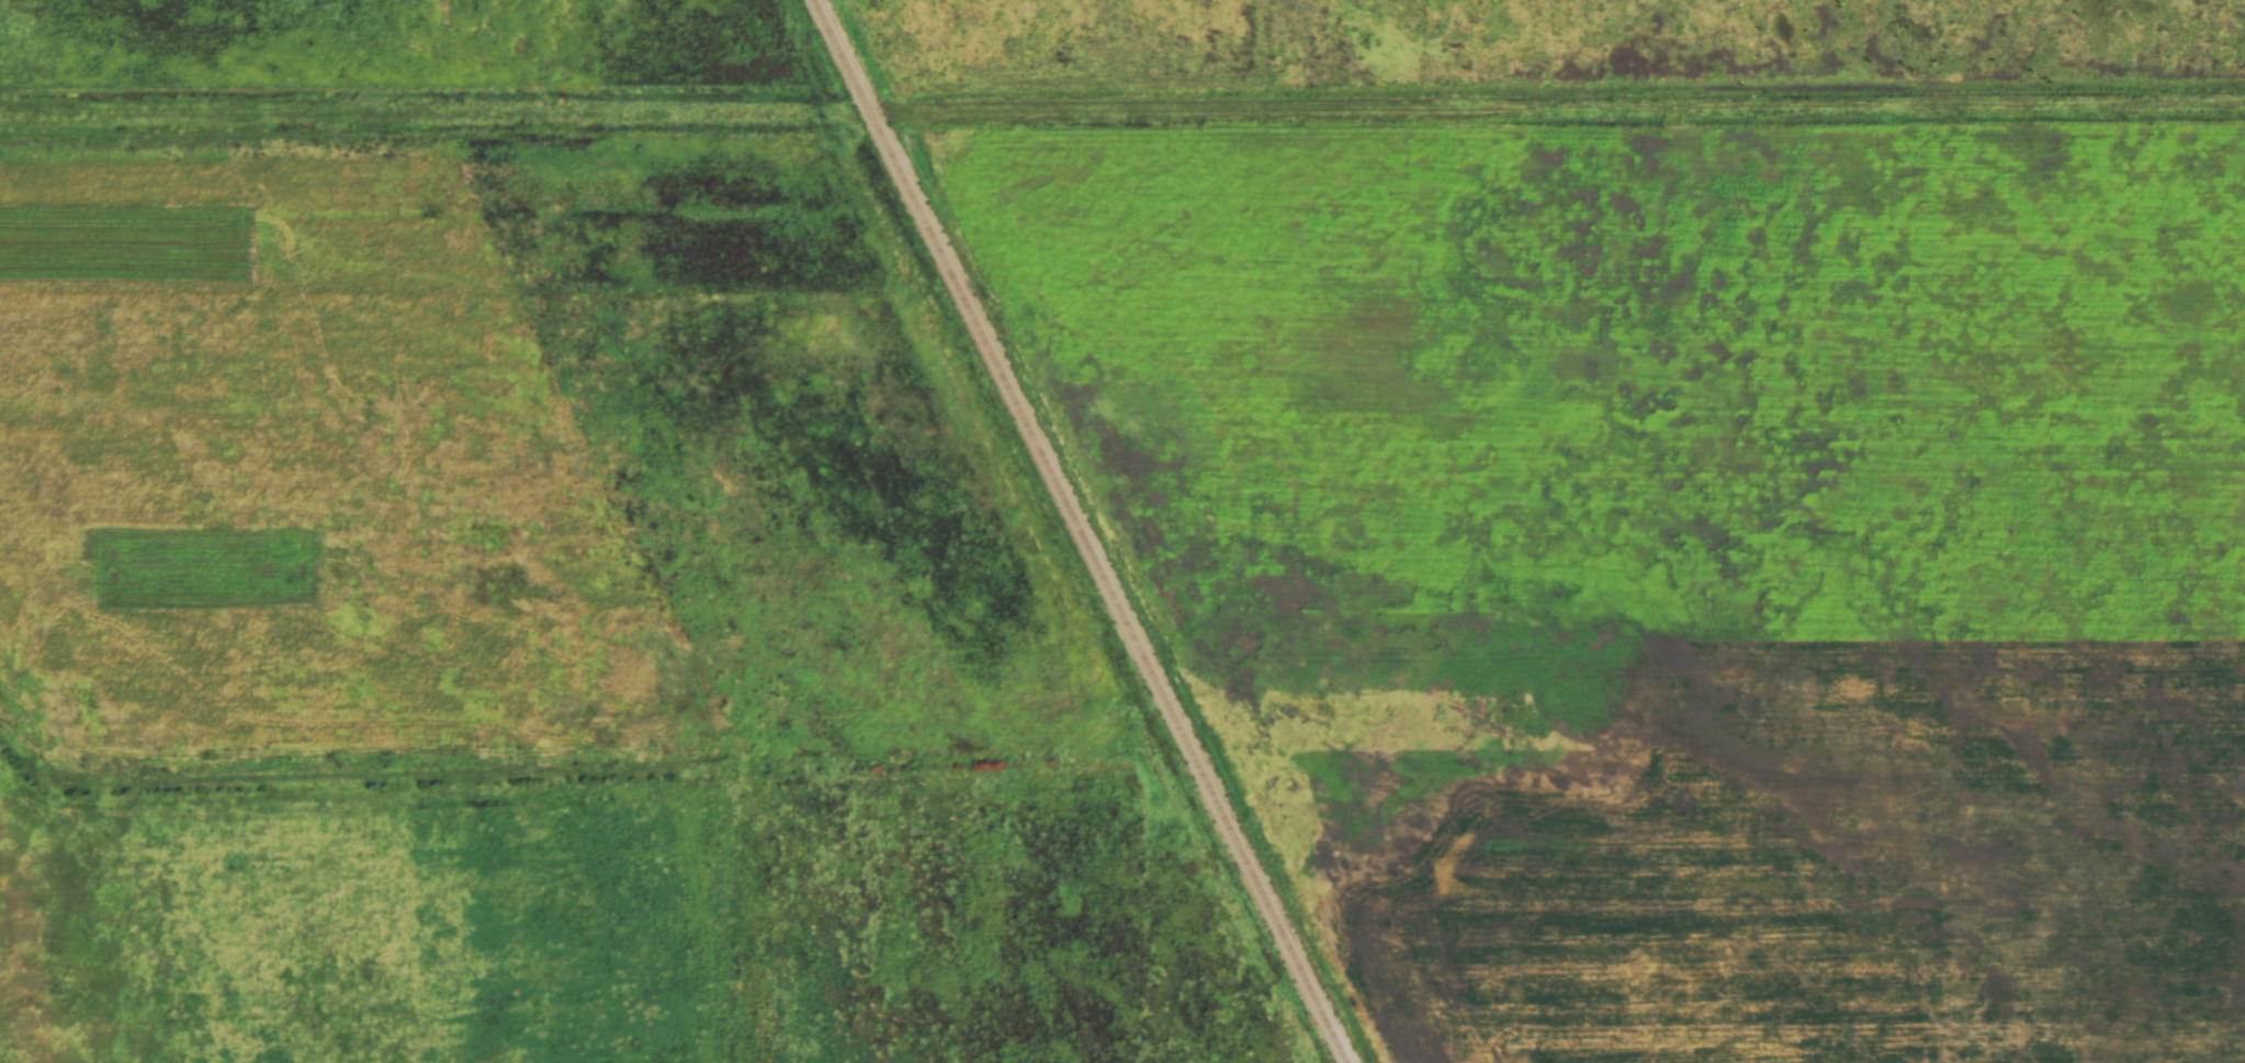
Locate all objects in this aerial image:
road: (1580, 109)
road: (410, 120)
railway: (1075, 532)

